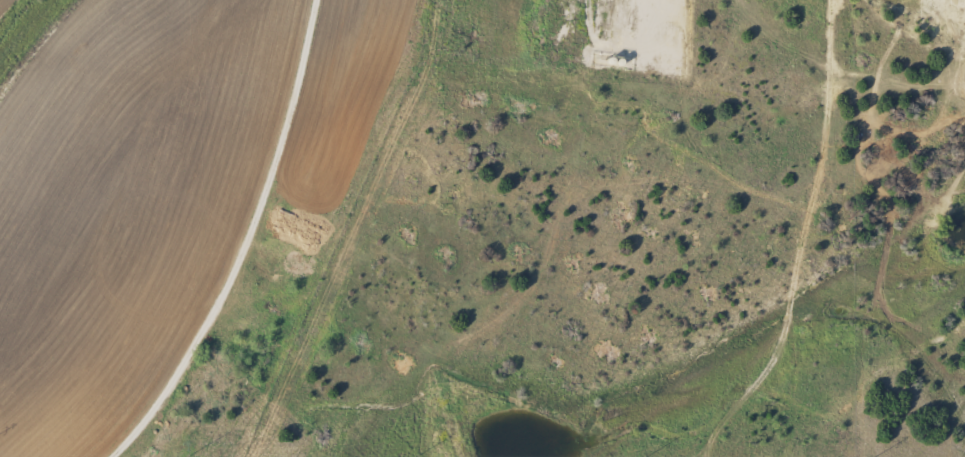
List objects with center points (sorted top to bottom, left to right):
road: (85, 44)

